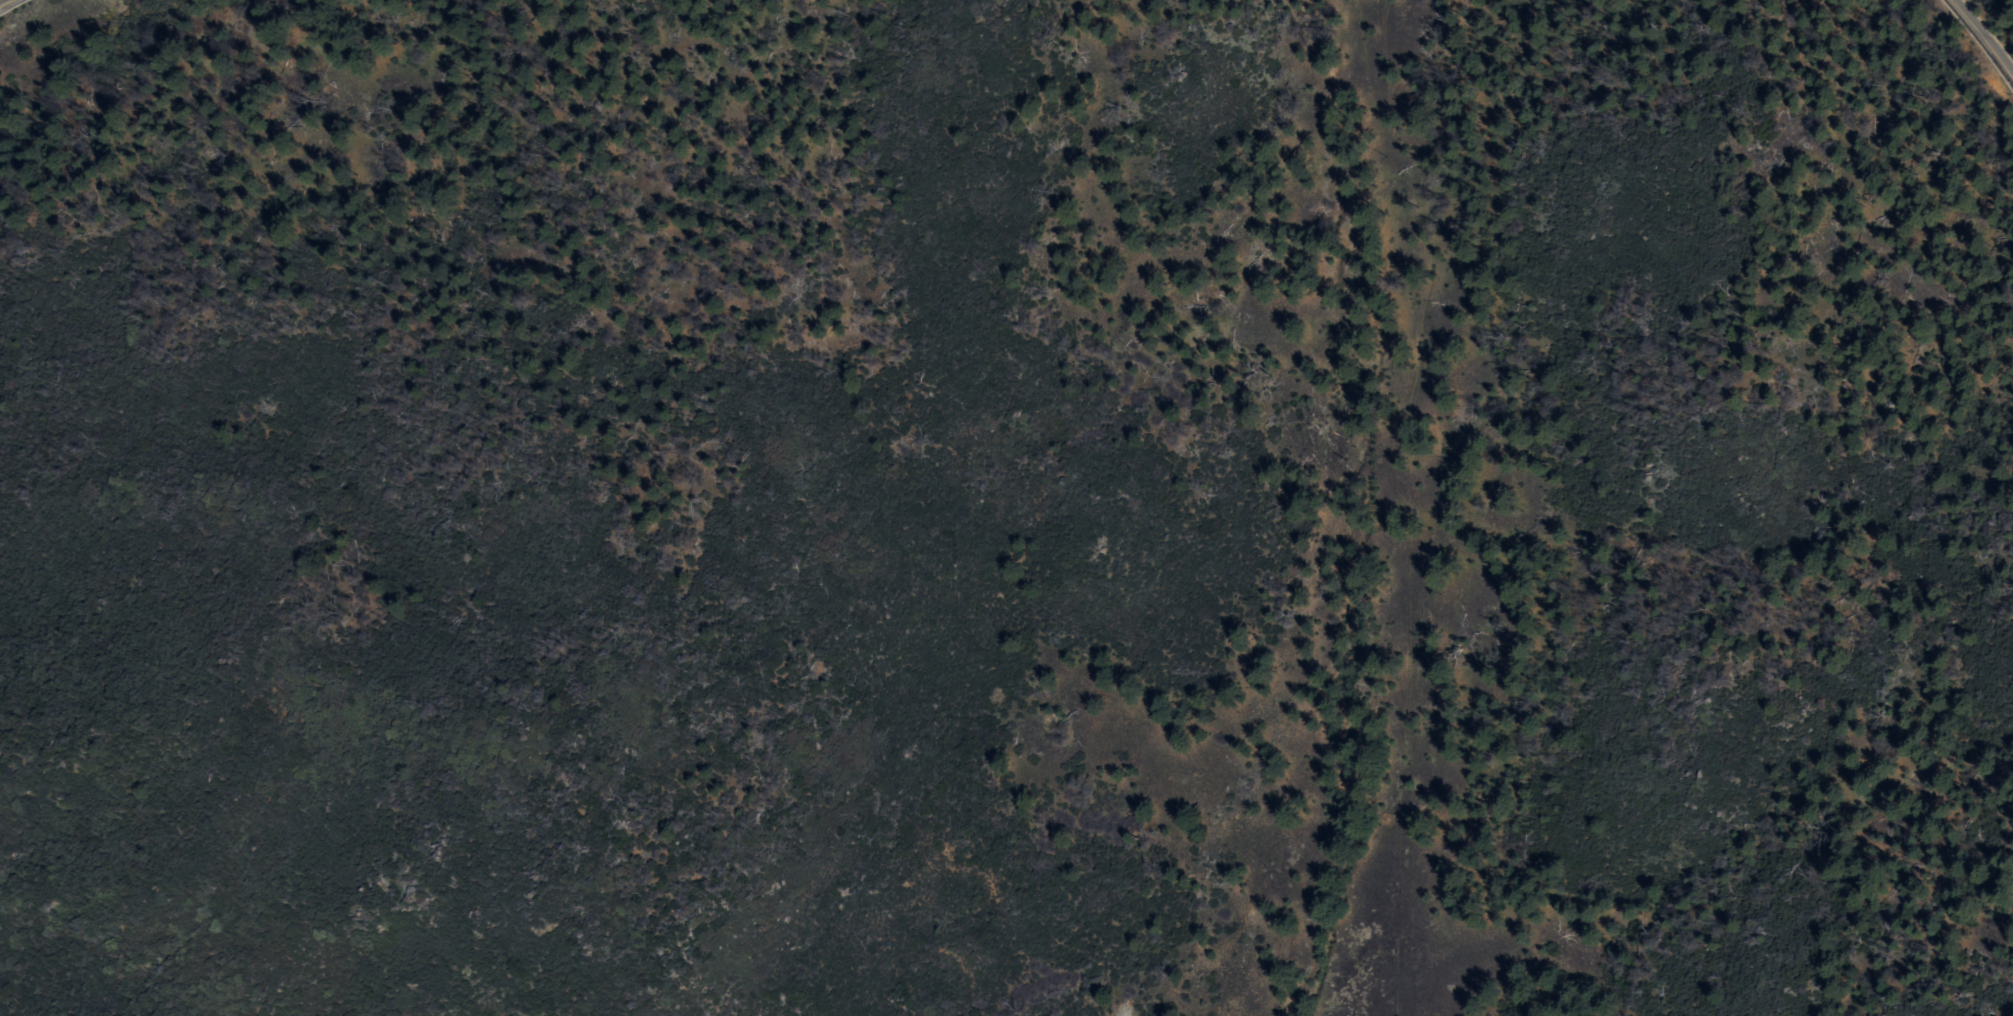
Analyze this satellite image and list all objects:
road: (10, 4)
road: (1983, 36)

